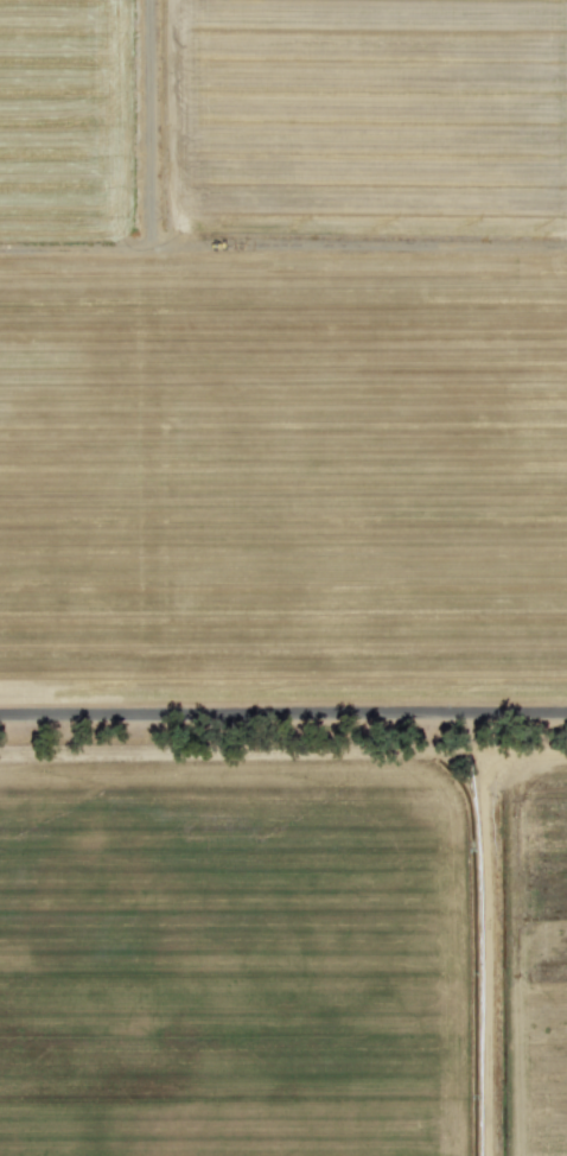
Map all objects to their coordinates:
road: (151, 123)
road: (282, 243)
road: (283, 713)

